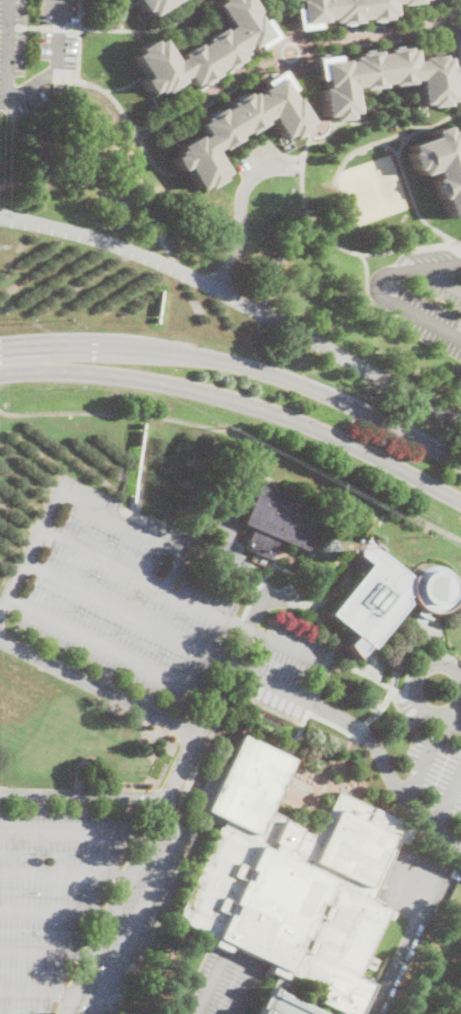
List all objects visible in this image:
road: (457, 3)
building: (151, 5)
building: (342, 10)
road: (122, 14)
road: (277, 20)
road: (456, 26)
road: (106, 30)
road: (381, 32)
building: (201, 49)
parking lot: (34, 50)
road: (289, 51)
road: (289, 51)
road: (276, 55)
building: (379, 78)
road: (84, 82)
road: (19, 90)
road: (303, 92)
road: (352, 118)
road: (165, 120)
building: (235, 129)
road: (322, 137)
road: (390, 139)
road: (401, 143)
road: (146, 154)
parking lot: (263, 163)
building: (441, 168)
road: (23, 180)
park: (374, 190)
road: (410, 196)
road: (238, 220)
road: (299, 238)
road: (332, 242)
building: (273, 262)
road: (441, 279)
road: (377, 290)
parking lot: (424, 295)
road: (236, 298)
road: (21, 345)
road: (260, 371)
road: (240, 400)
road: (240, 435)
building: (278, 521)
road: (137, 531)
road: (228, 541)
road: (30, 557)
road: (186, 600)
building: (388, 600)
road: (129, 615)
parking lot: (144, 620)
road: (248, 628)
road: (326, 628)
road: (112, 652)
road: (415, 689)
road: (99, 690)
road: (391, 691)
road: (385, 701)
road: (451, 715)
road: (444, 718)
road: (455, 724)
road: (439, 739)
road: (453, 745)
parking lot: (433, 752)
road: (428, 760)
road: (389, 773)
road: (85, 795)
road: (170, 799)
road: (449, 802)
road: (75, 836)
building: (455, 872)
road: (65, 875)
building: (292, 884)
parking lot: (80, 892)
road: (148, 907)
road: (56, 915)
road: (402, 951)
road: (46, 955)
road: (233, 958)
road: (37, 994)

